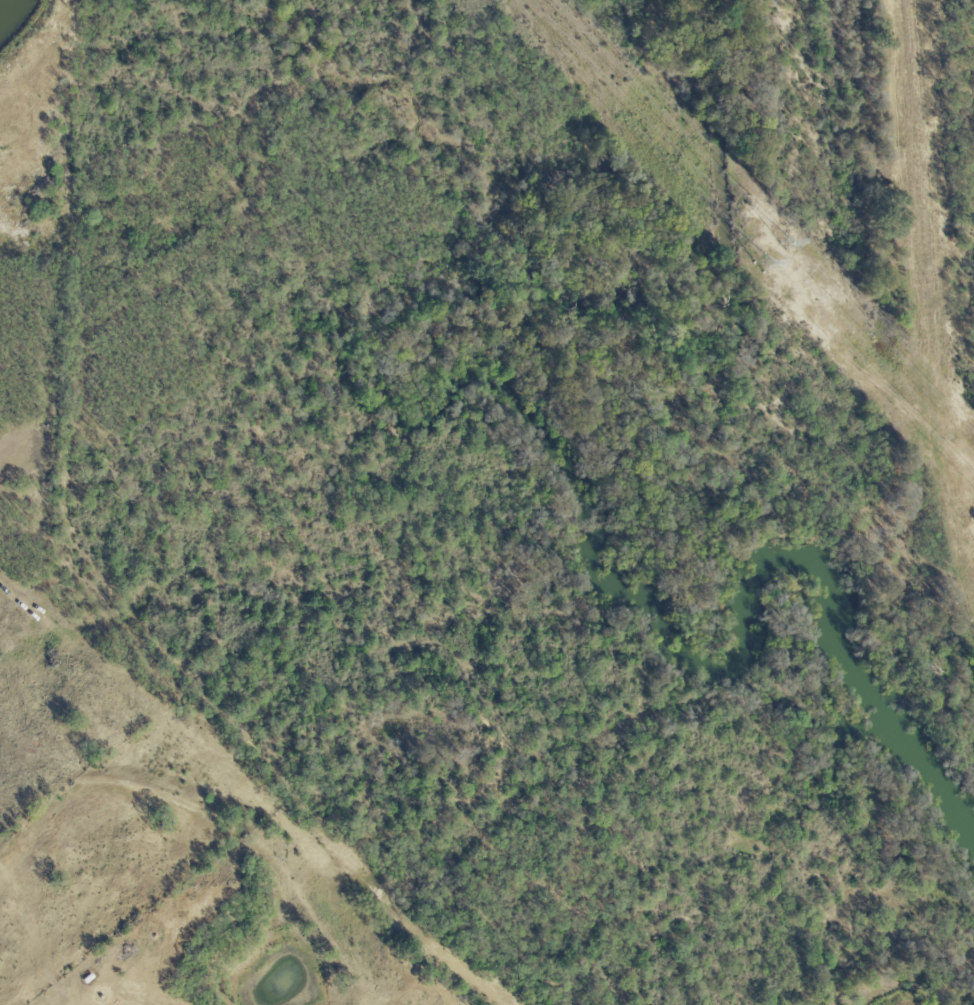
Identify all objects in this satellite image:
power tower: (791, 240)
power tower: (772, 259)

